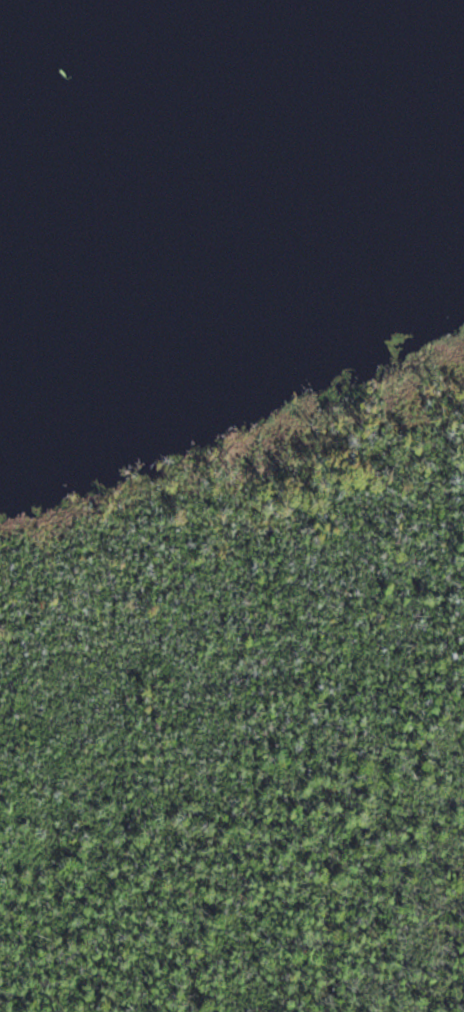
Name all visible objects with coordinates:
river: (152, 69)

